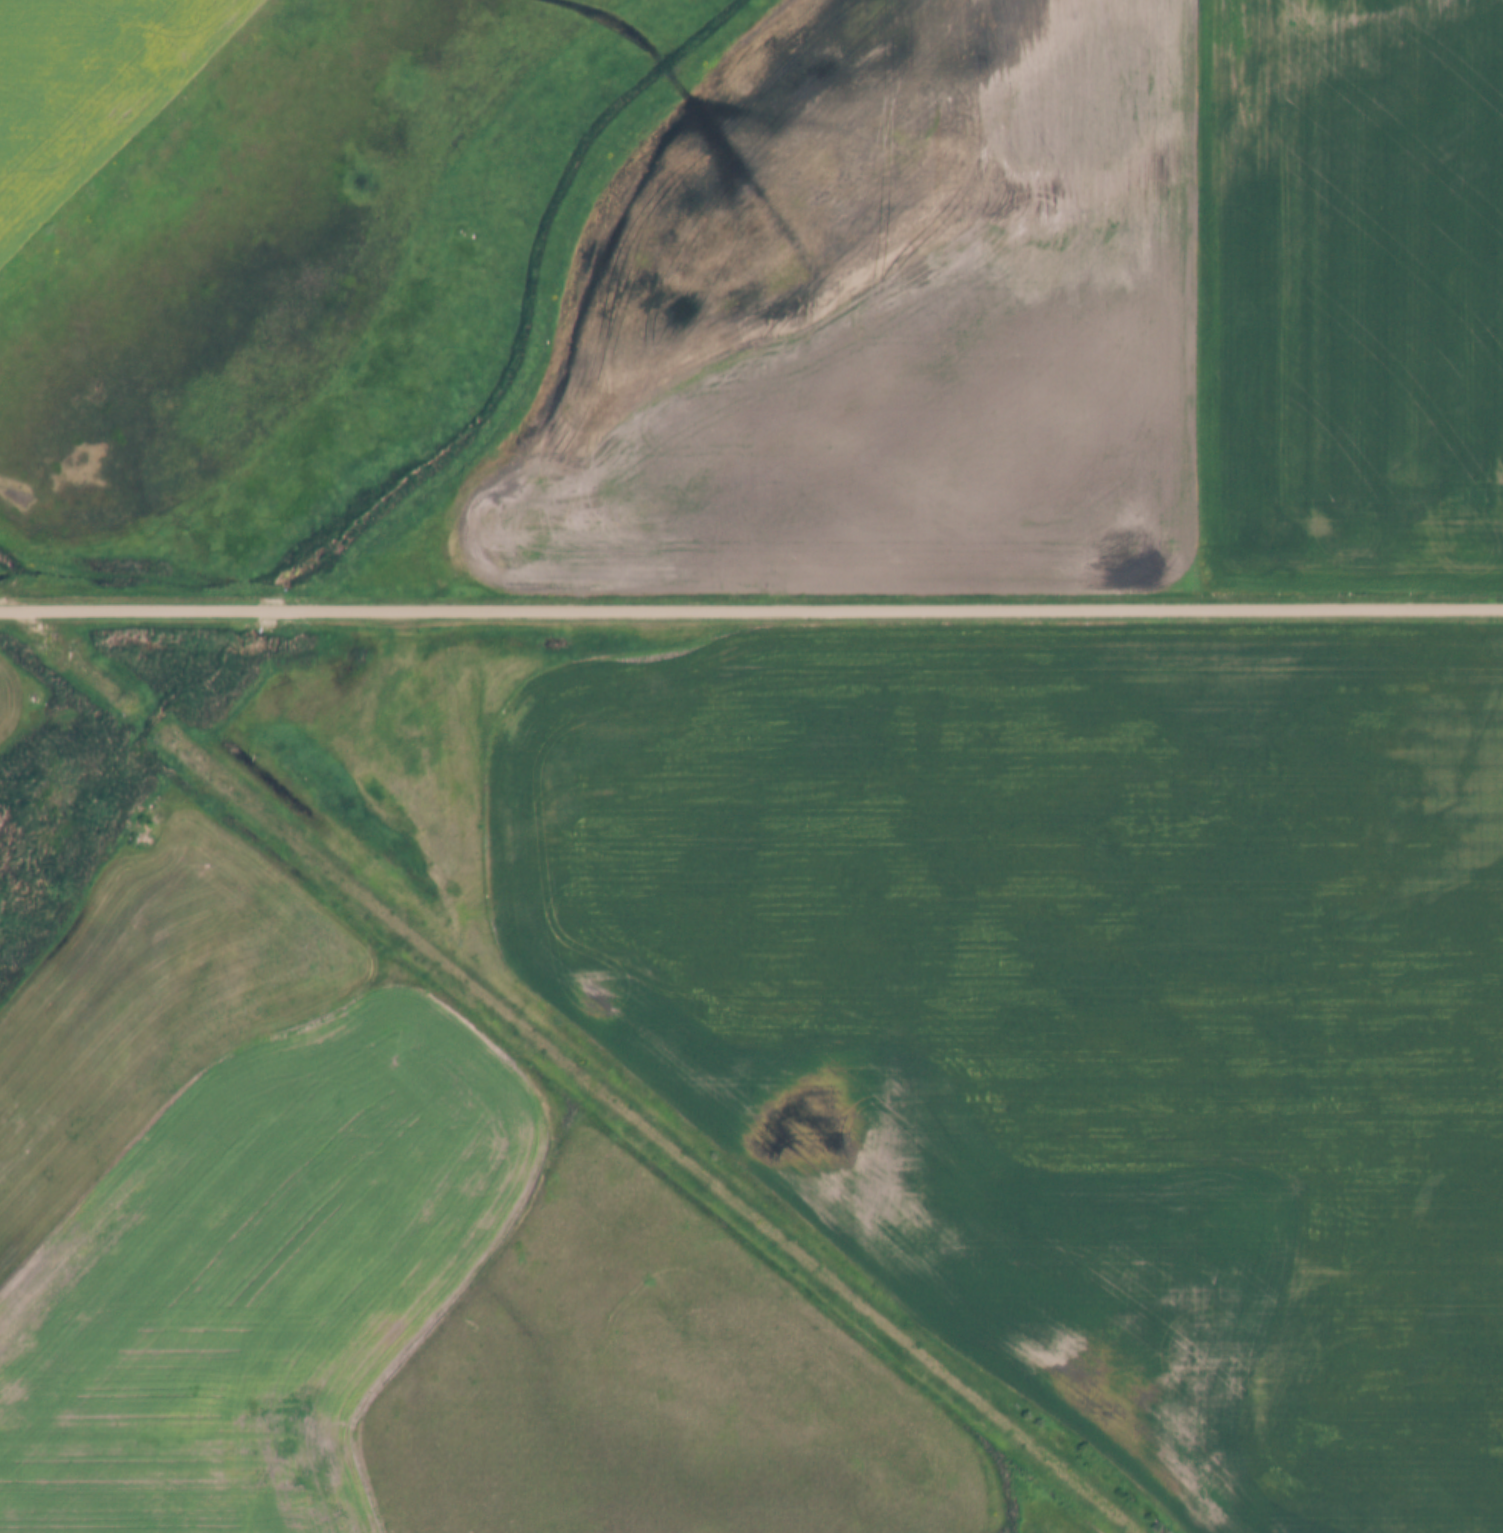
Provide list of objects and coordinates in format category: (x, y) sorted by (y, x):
road: (751, 602)

